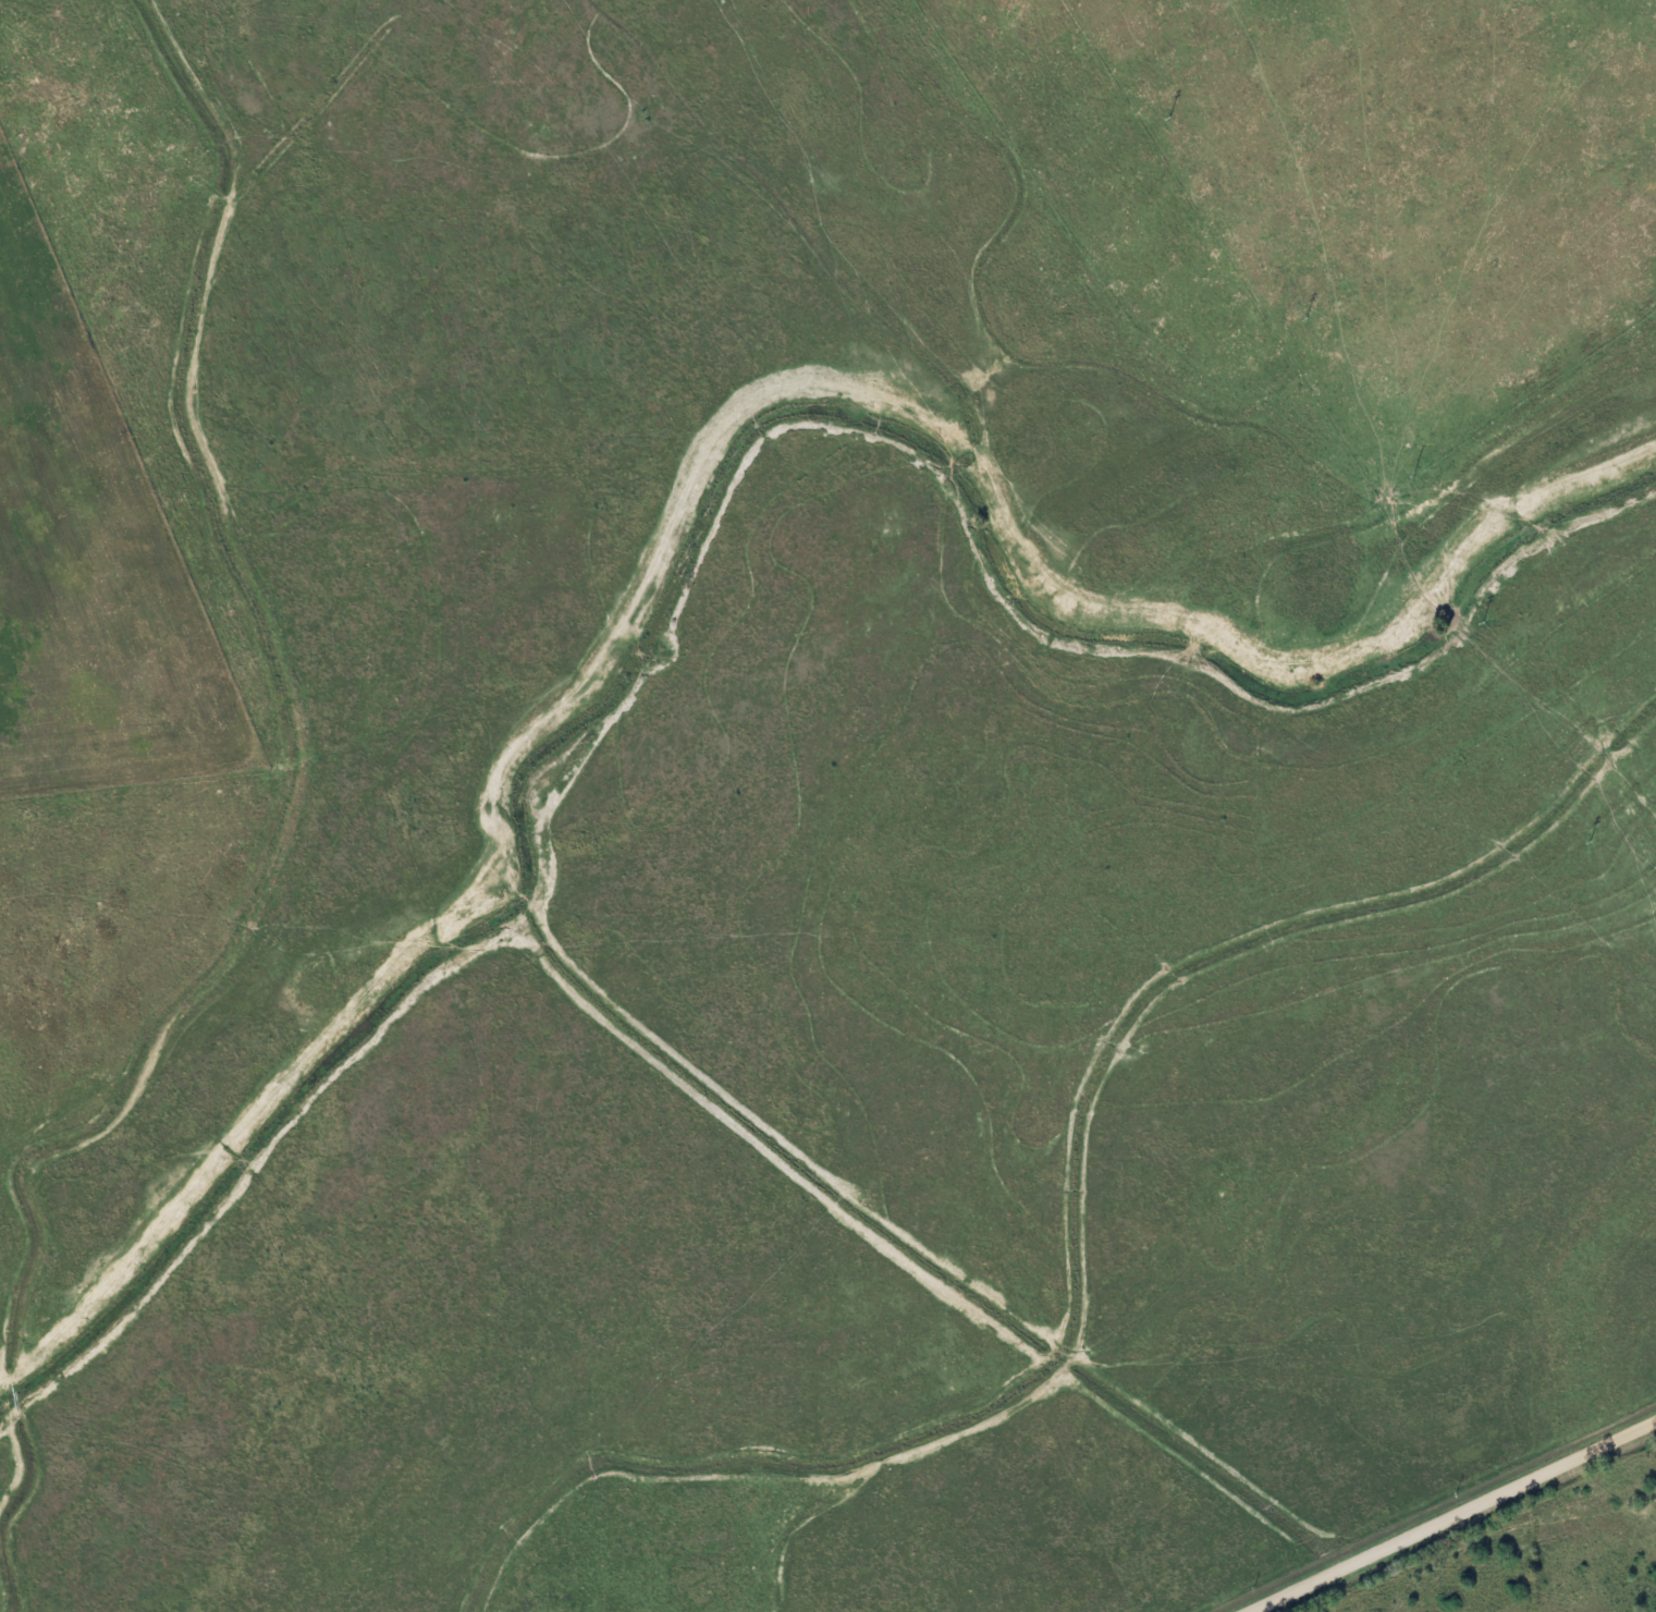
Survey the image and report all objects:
road: (1445, 1515)

